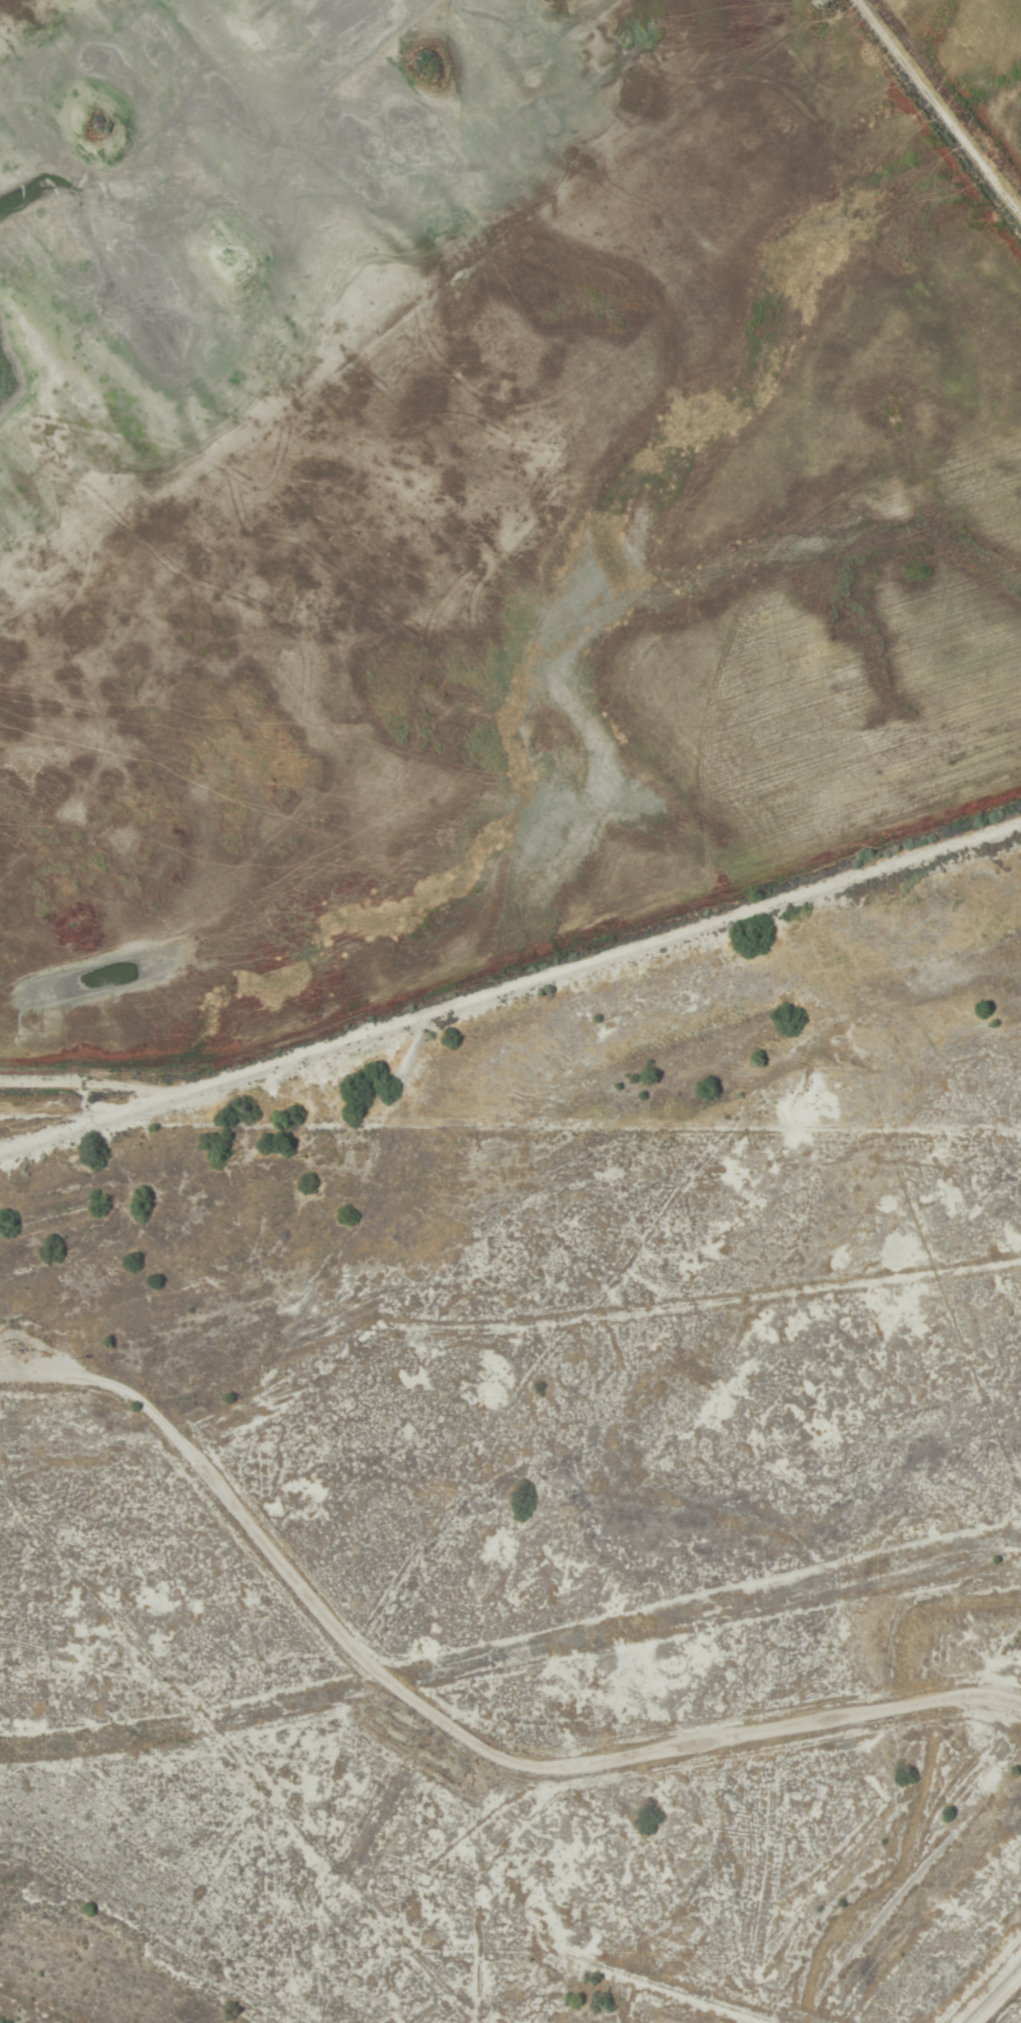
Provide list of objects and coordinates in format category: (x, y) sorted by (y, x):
road: (938, 107)
road: (511, 974)
road: (446, 1724)
road: (982, 1984)

